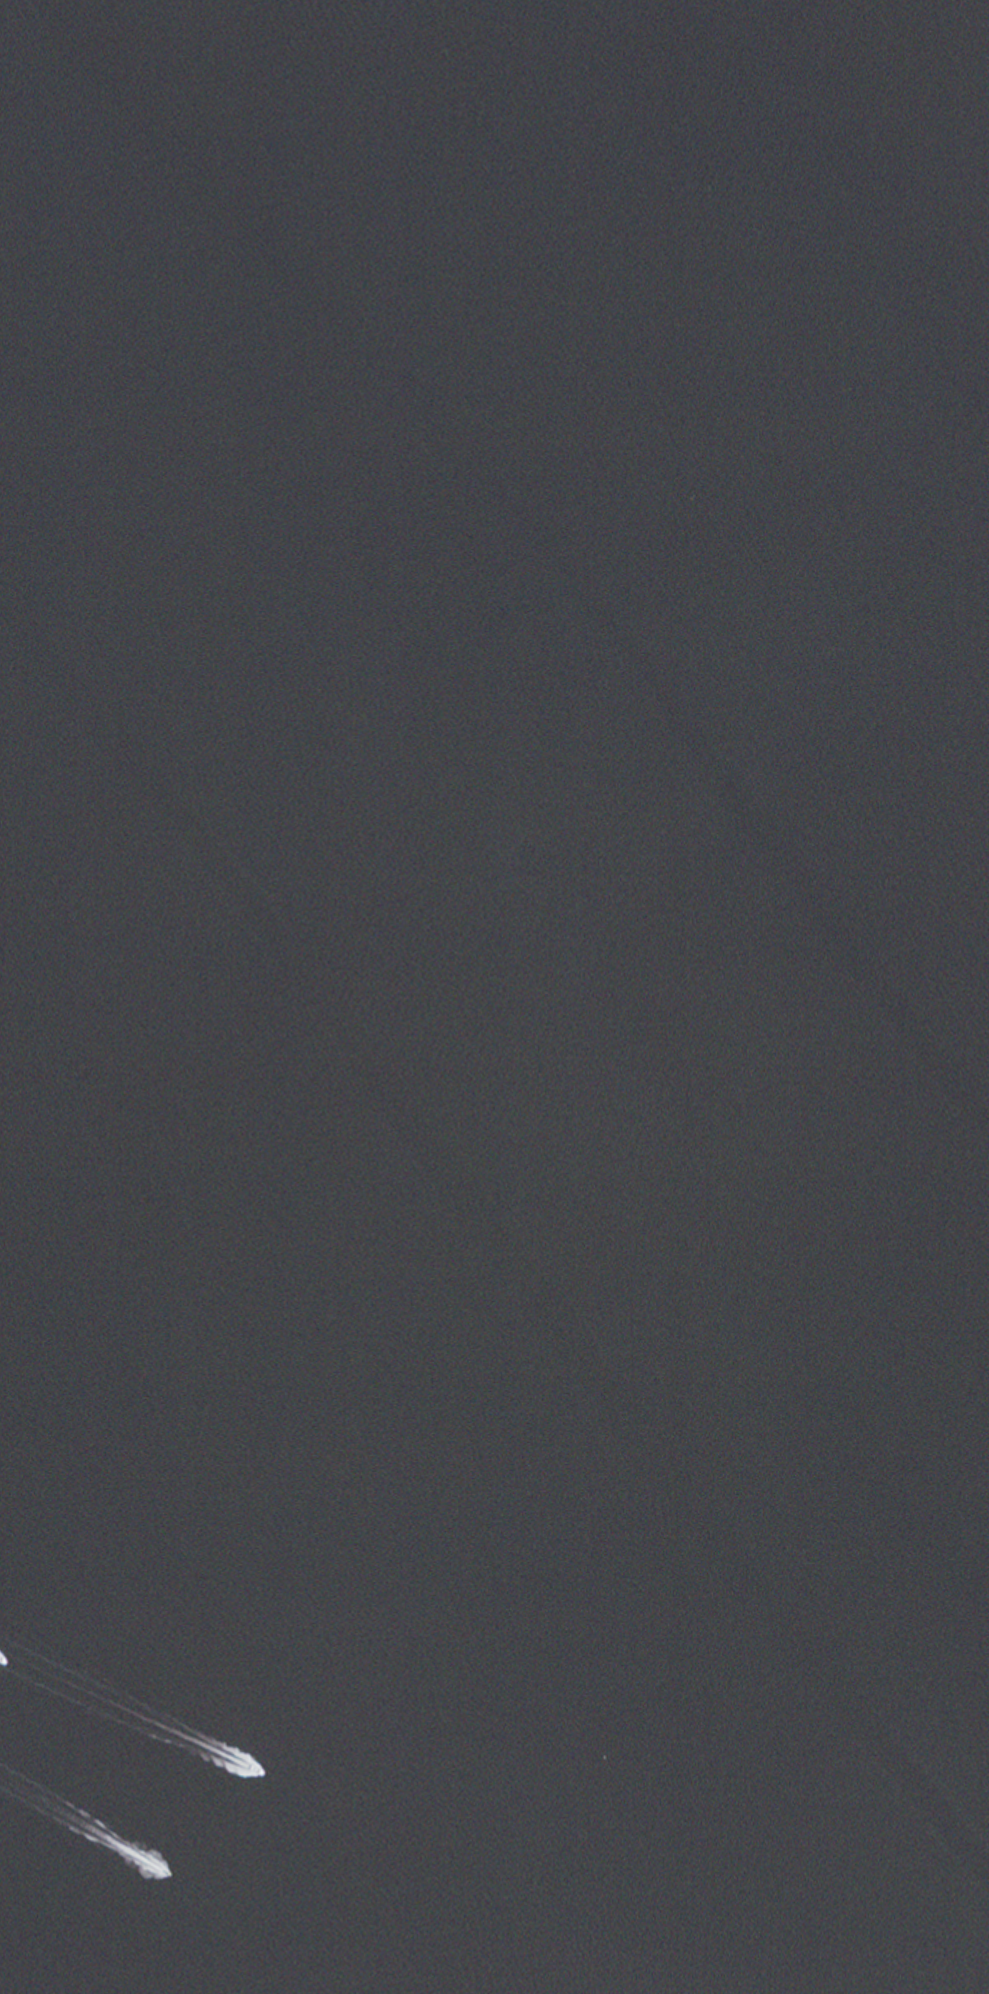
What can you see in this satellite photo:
river: (332, 29)
river: (375, 29)
river: (429, 1101)

